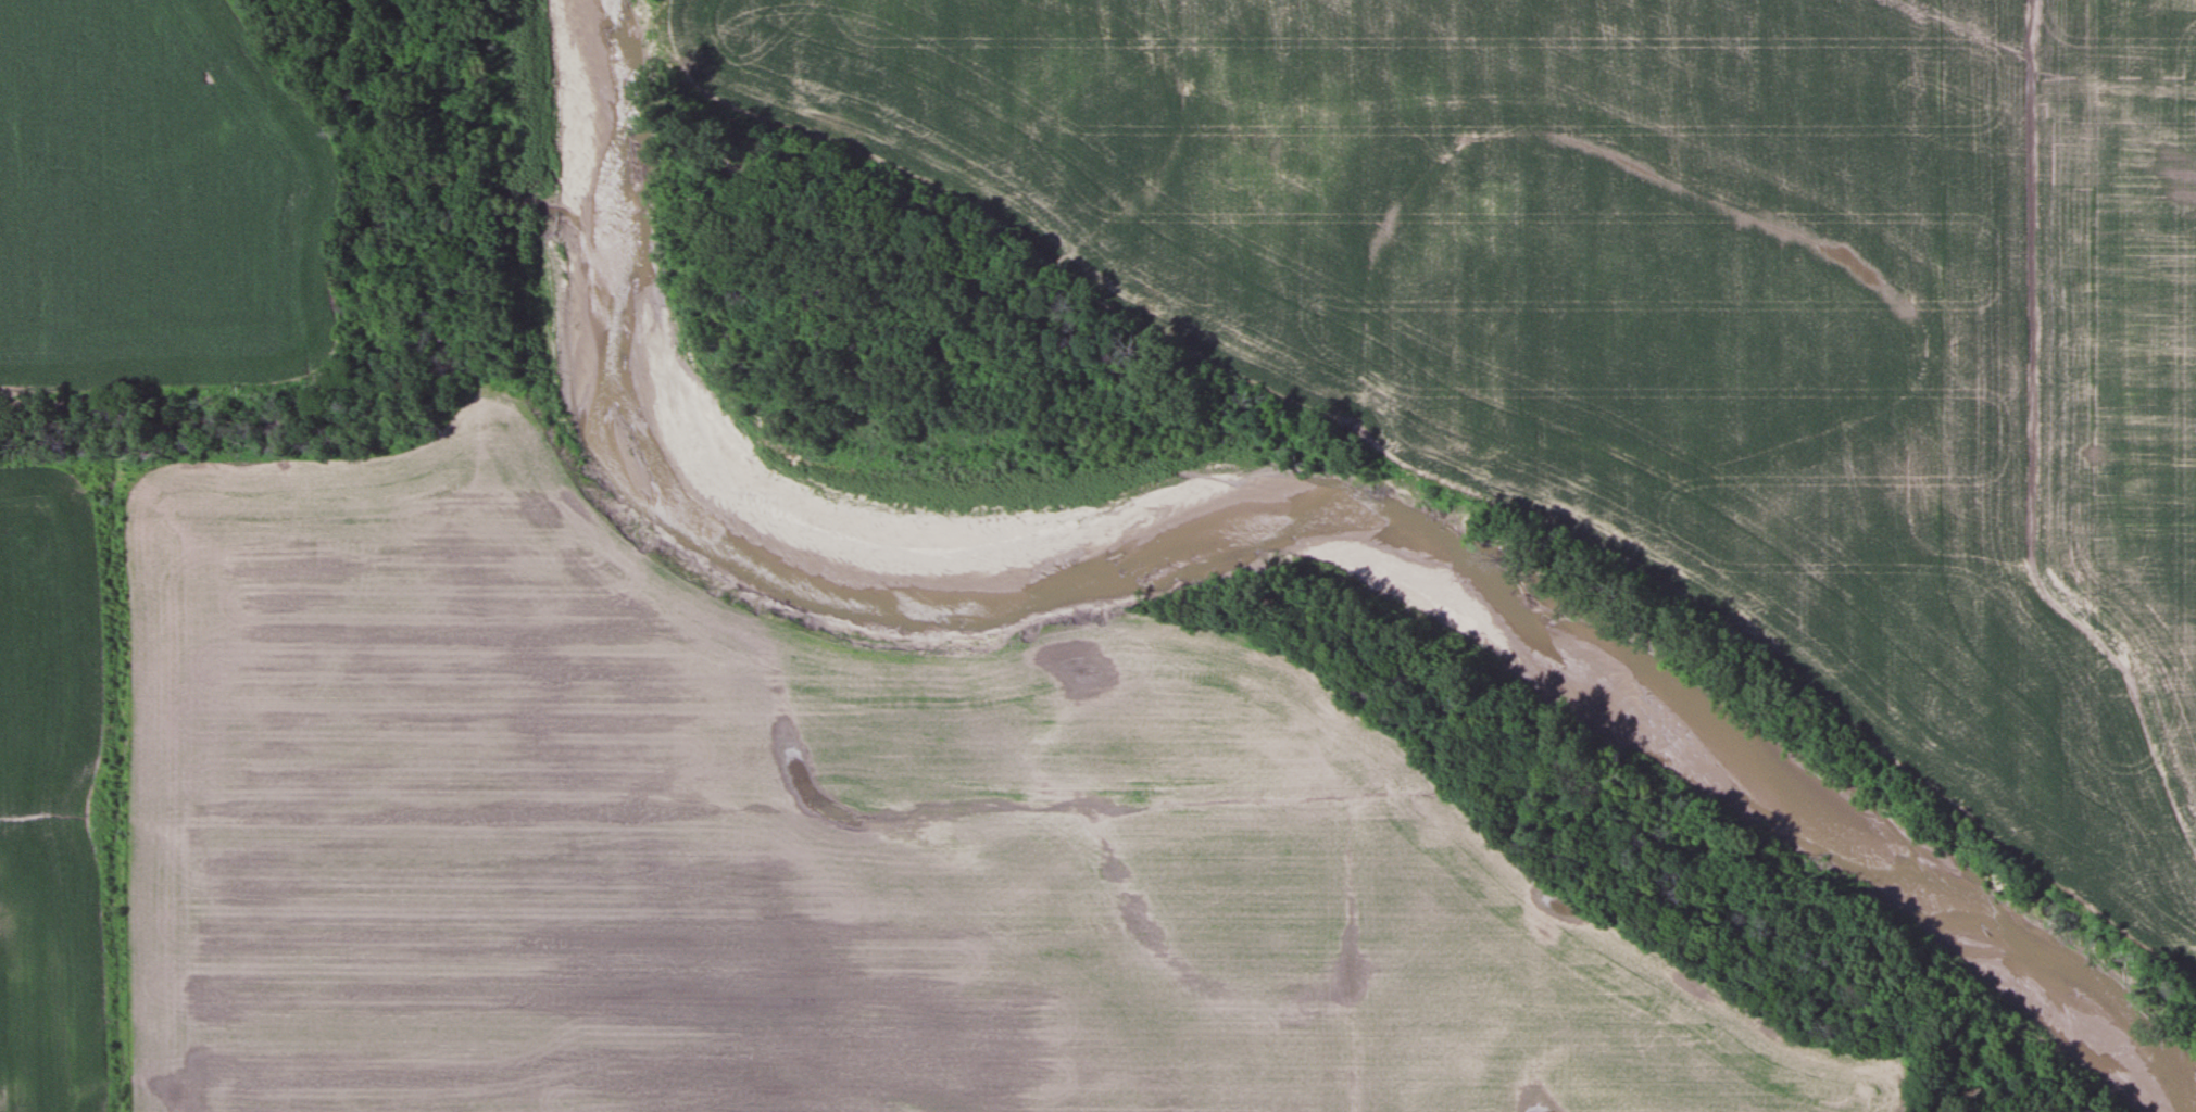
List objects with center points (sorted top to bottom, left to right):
crop: (158, 204)
crop: (1666, 305)
river: (1256, 497)
crop: (815, 842)

